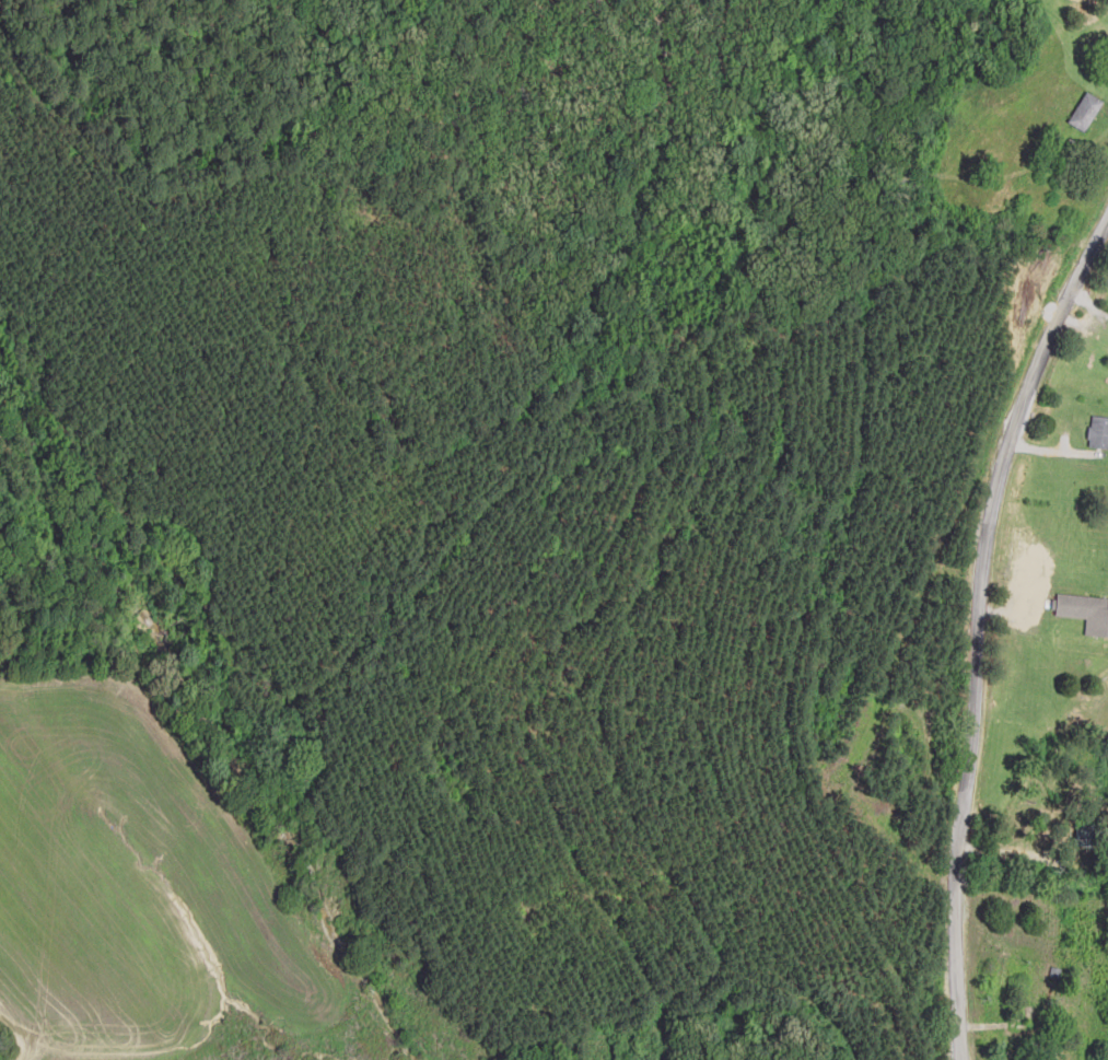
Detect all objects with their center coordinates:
road: (1096, 3)
building: (1086, 112)
building: (1098, 433)
building: (1085, 613)
road: (1004, 660)

